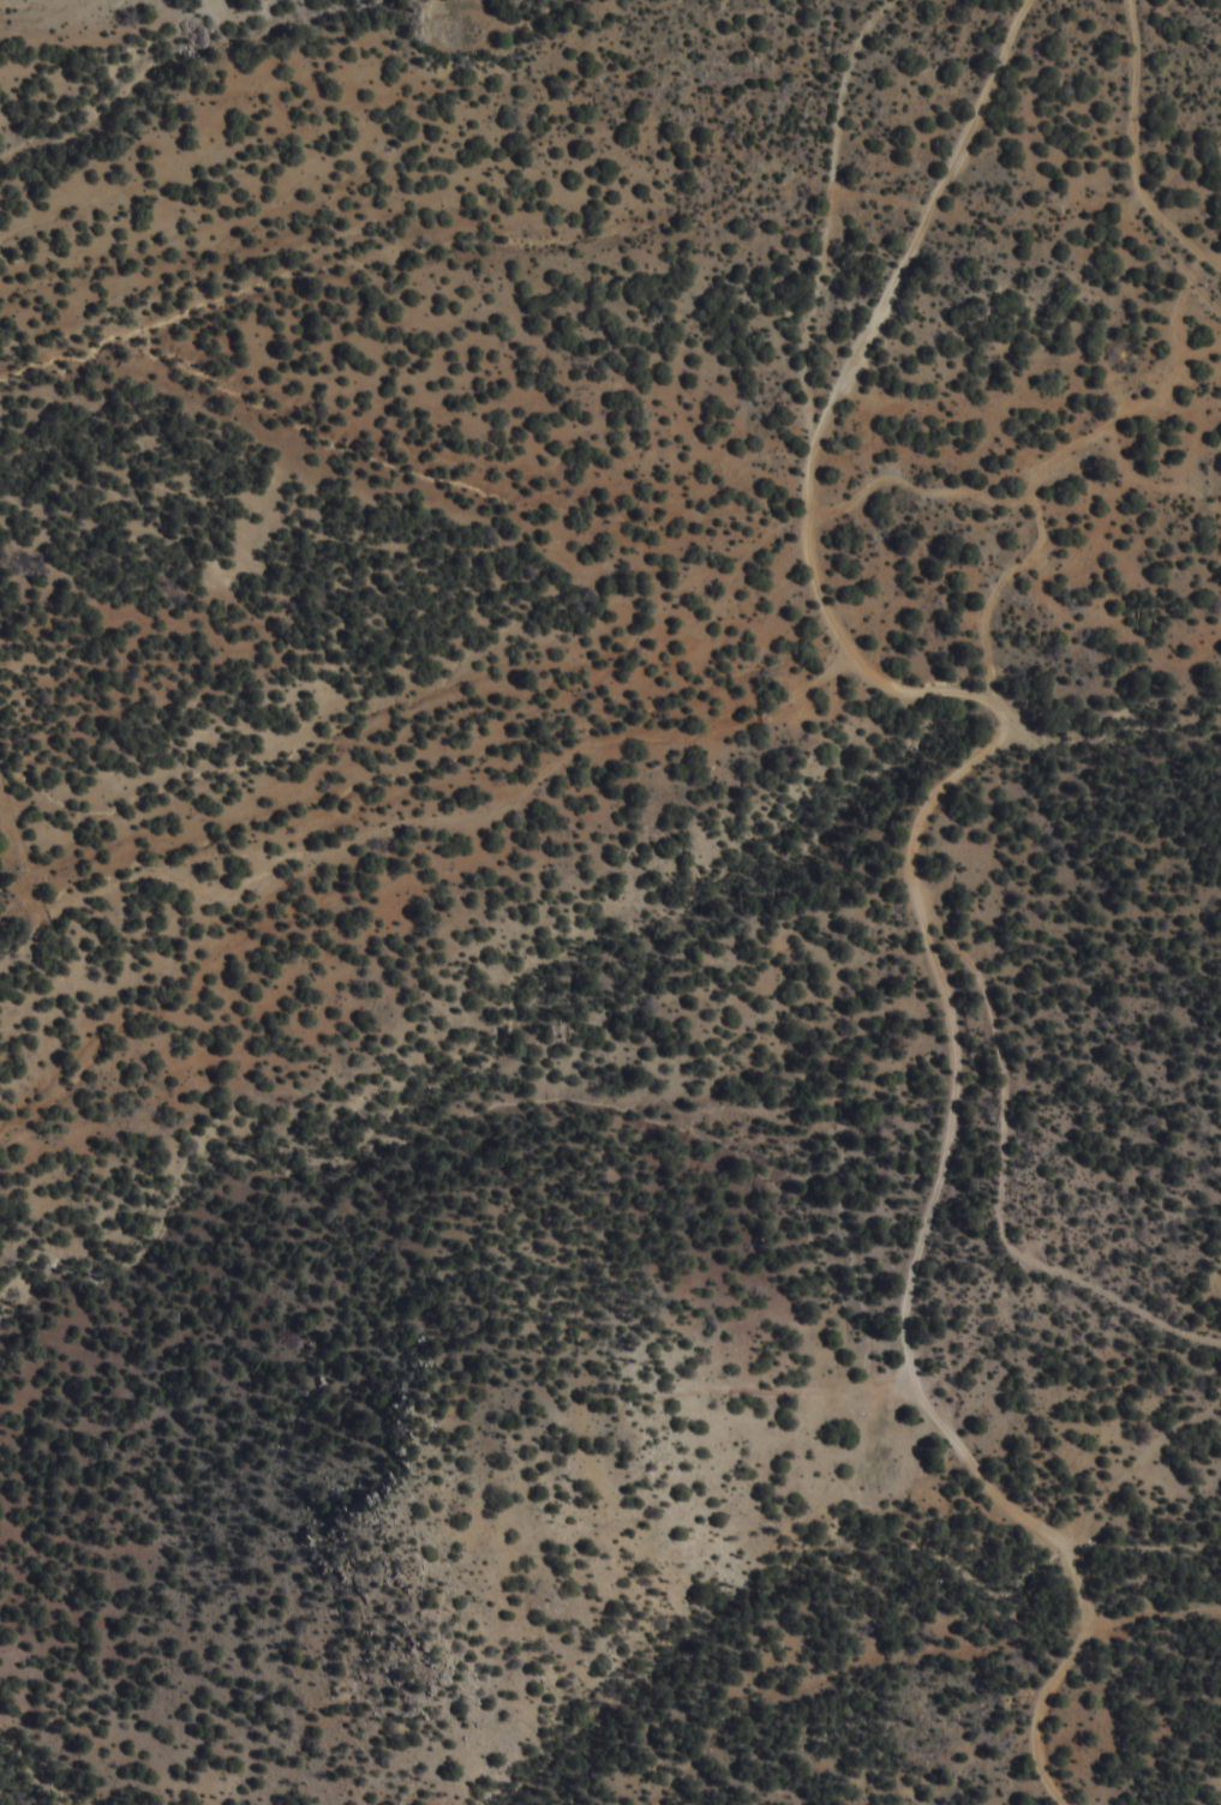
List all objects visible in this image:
road: (1142, 152)
road: (906, 853)
road: (1154, 1619)

